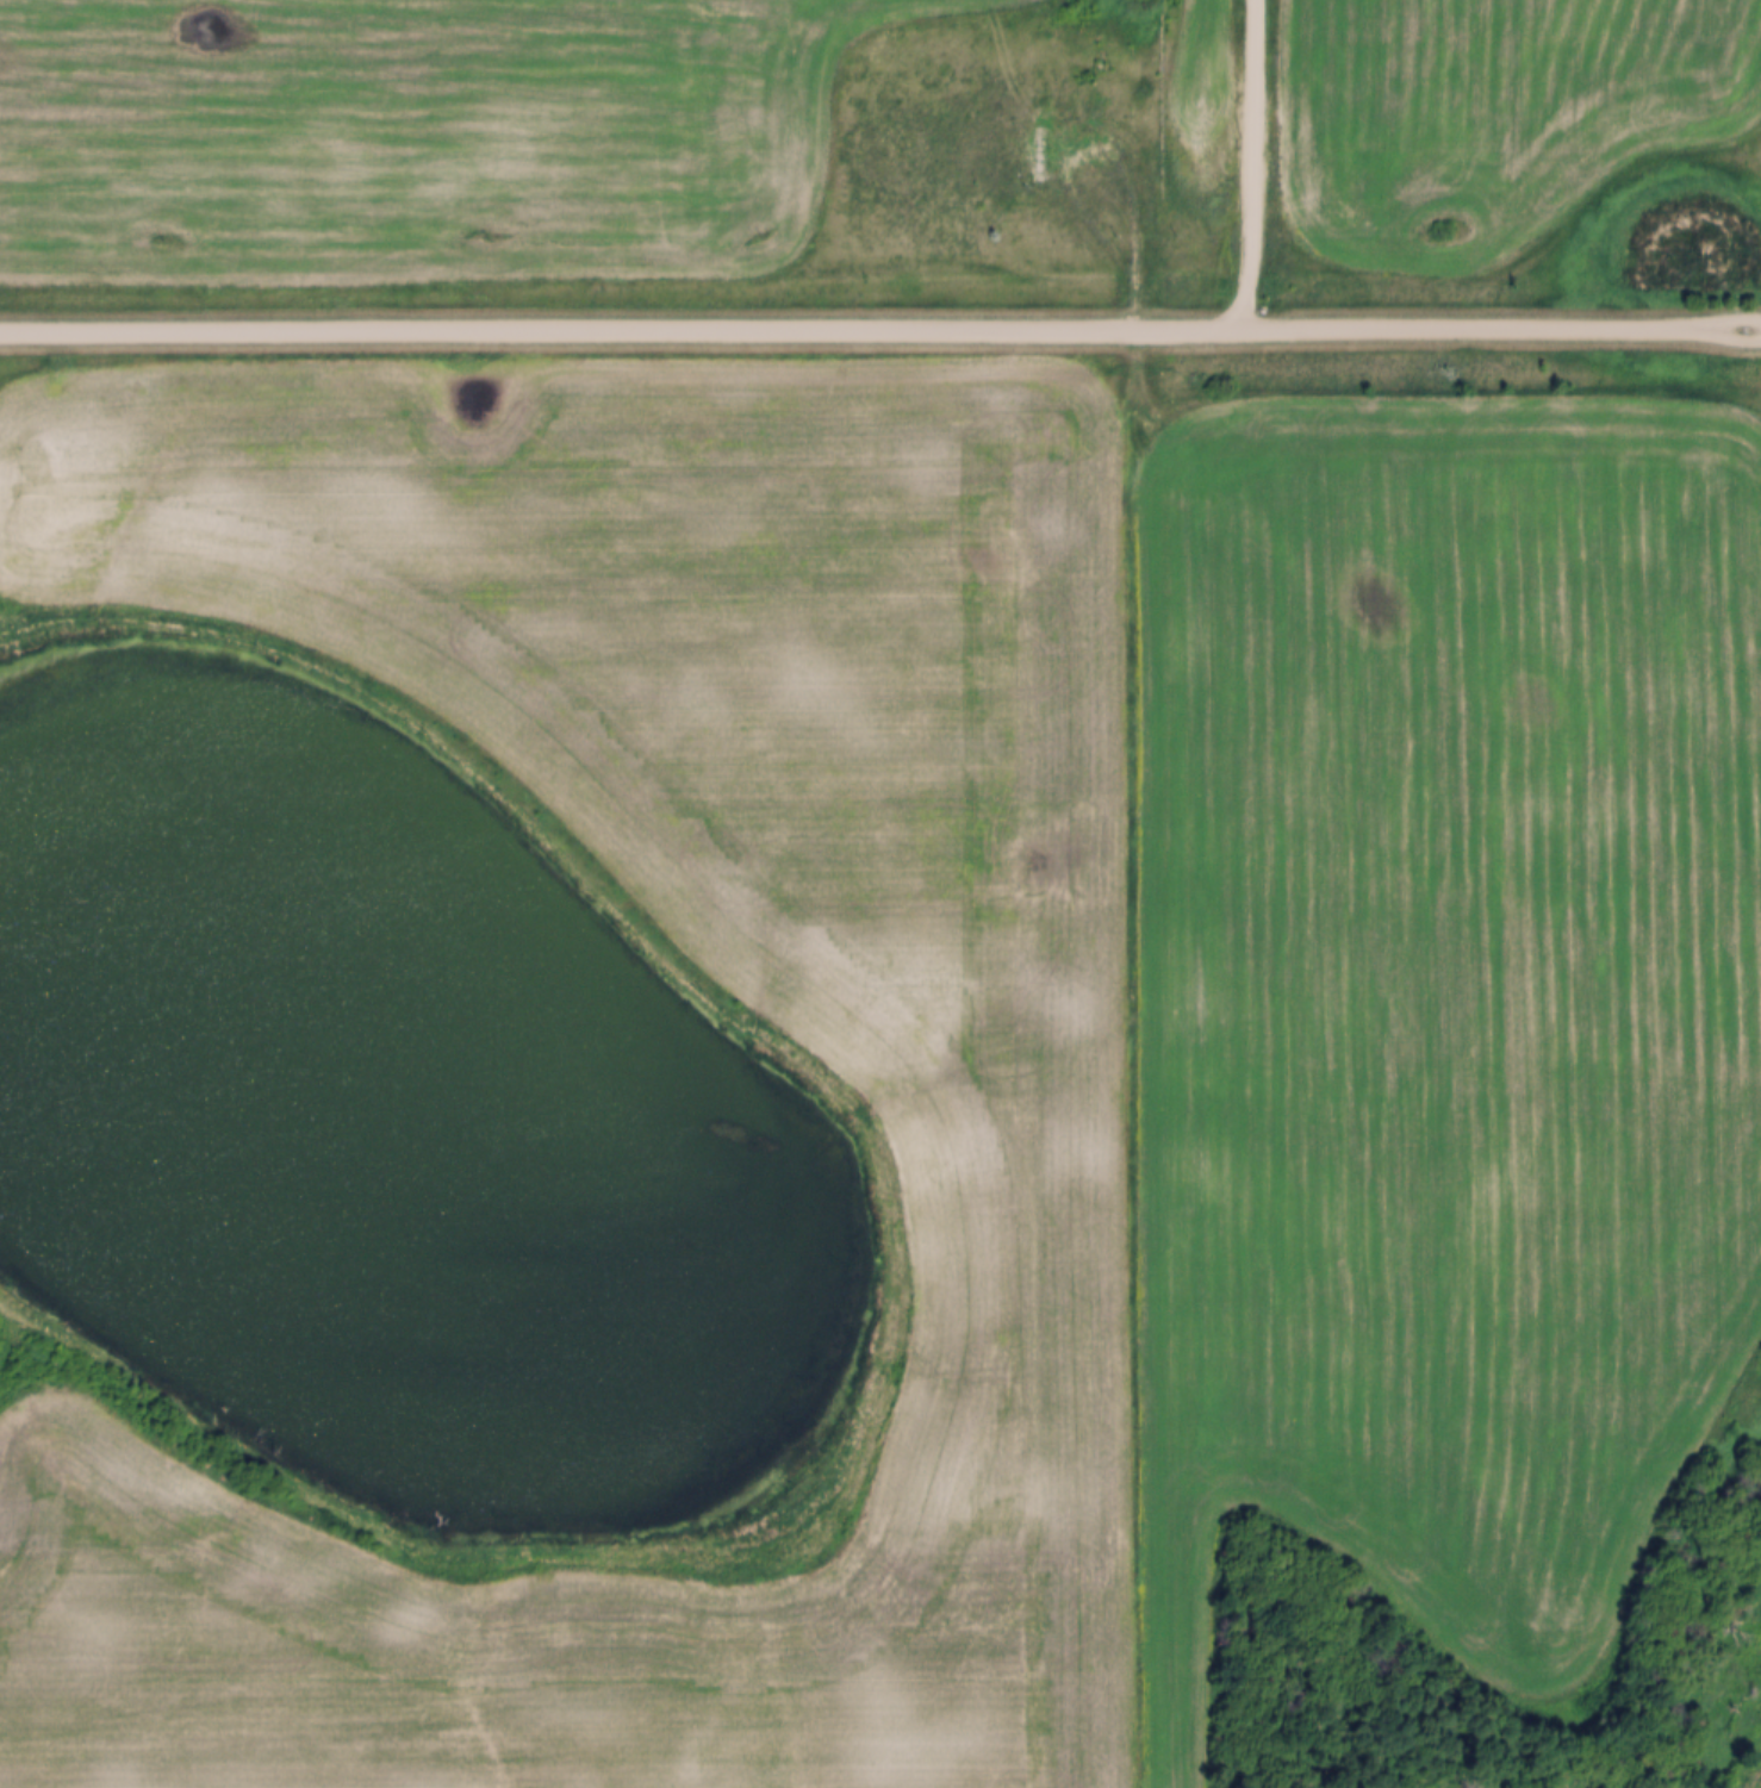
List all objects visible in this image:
building: (1032, 144)
building: (1040, 155)
road: (1246, 163)
road: (1134, 206)
road: (879, 329)

